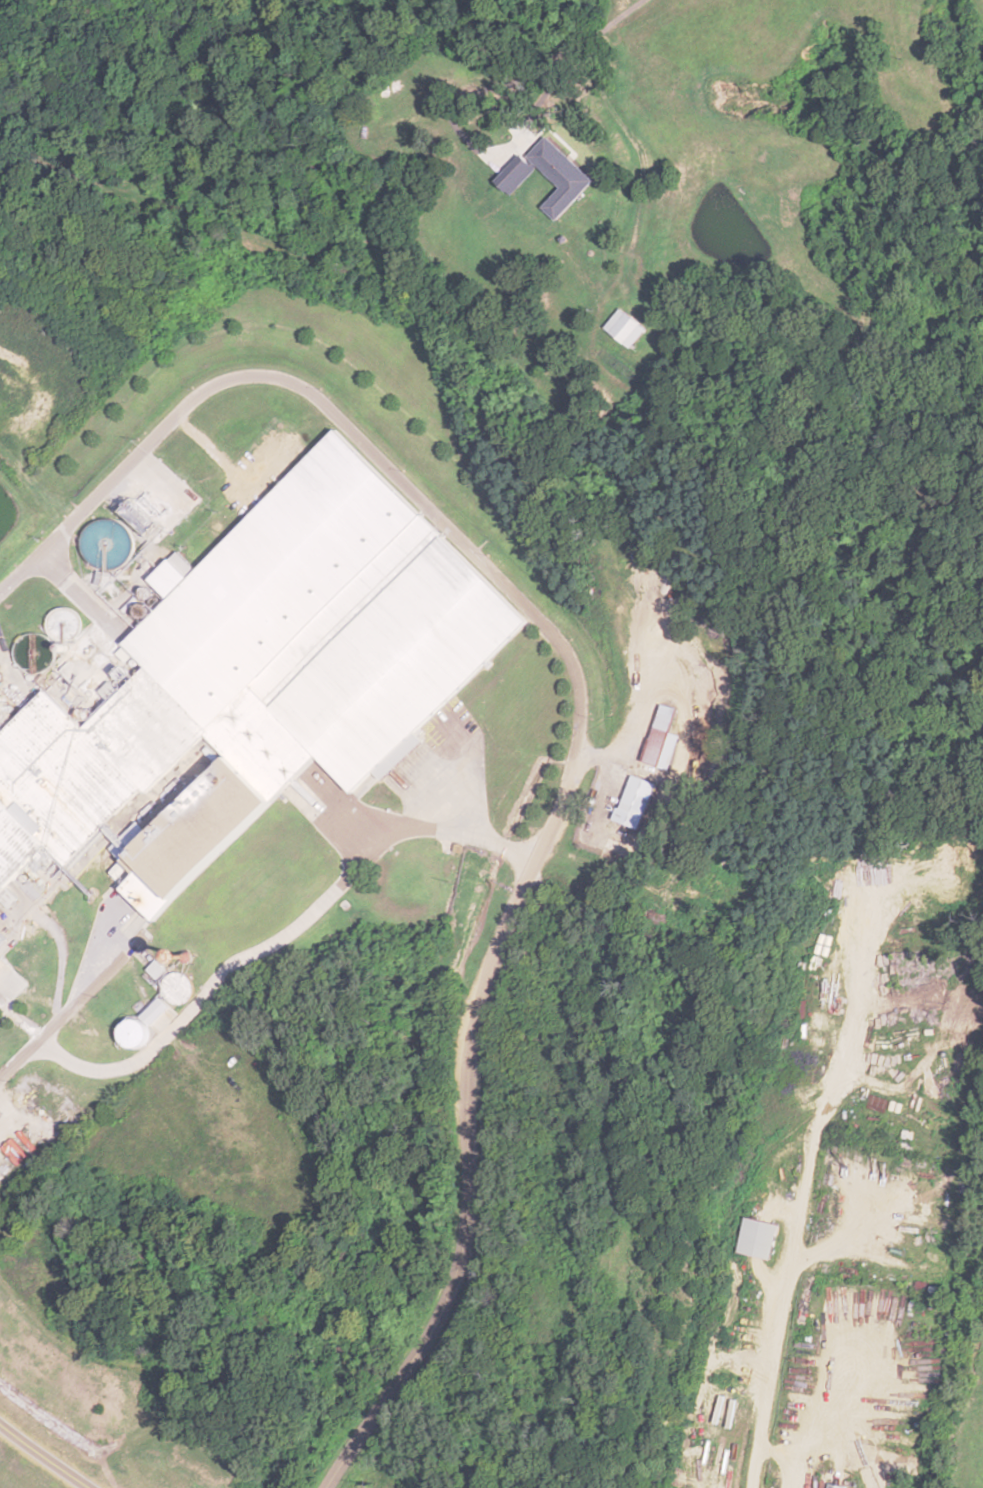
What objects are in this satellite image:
road: (393, 175)
road: (427, 512)
building: (264, 658)
building: (660, 735)
building: (633, 802)
building: (0, 902)
building: (0, 935)
road: (283, 941)
building: (153, 970)
building: (174, 988)
road: (69, 1007)
building: (853, 1151)
building: (751, 1238)
road: (462, 1263)
road: (45, 1455)
building: (833, 1486)

